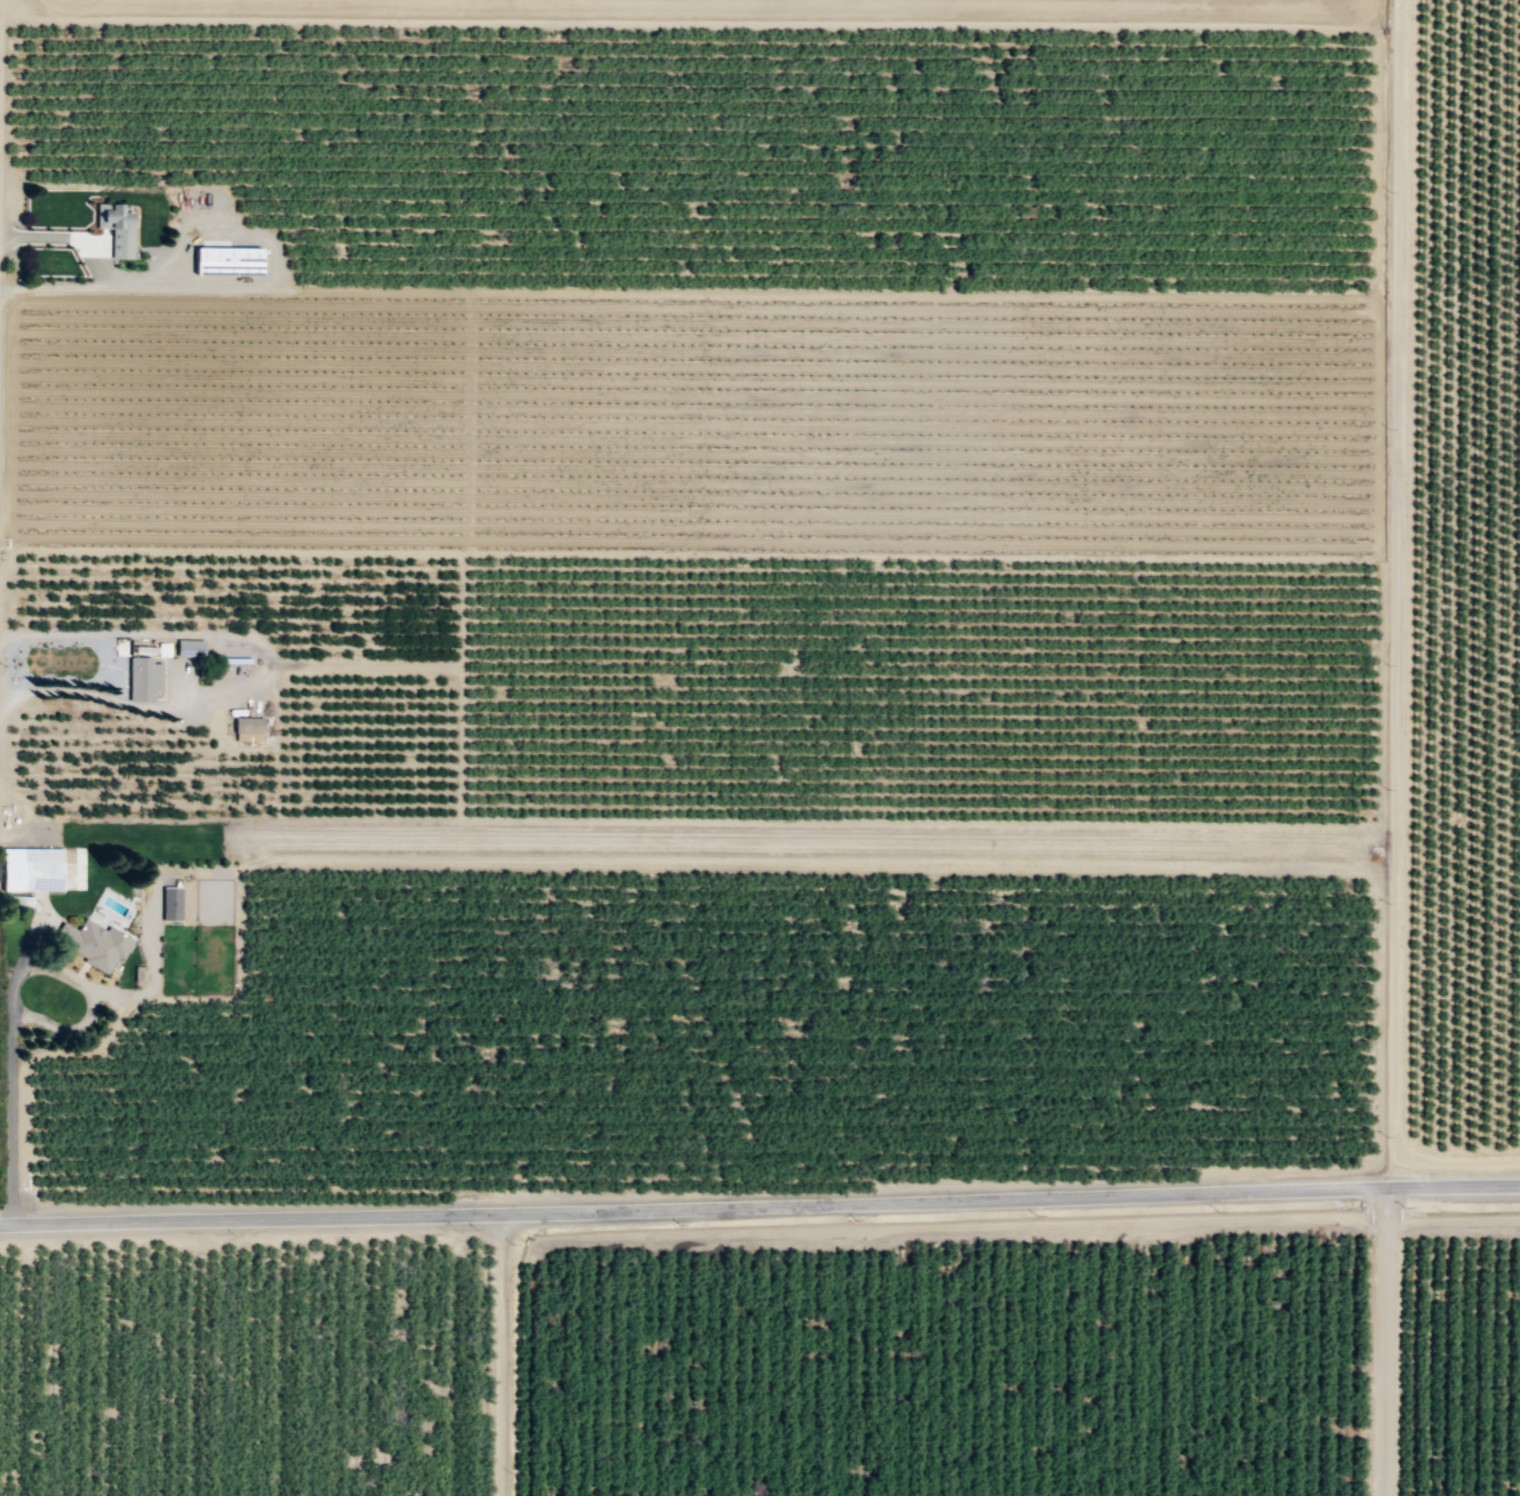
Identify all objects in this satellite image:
road: (691, 22)
building: (116, 227)
road: (82, 237)
road: (270, 249)
building: (228, 260)
road: (825, 293)
road: (1385, 428)
road: (9, 541)
road: (221, 551)
road: (923, 556)
road: (1396, 576)
road: (363, 665)
road: (264, 668)
building: (144, 679)
building: (248, 729)
road: (657, 821)
road: (535, 857)
building: (31, 868)
building: (171, 902)
building: (94, 941)
building: (140, 973)
road: (1378, 1085)
road: (8, 1097)
road: (1458, 1162)
road: (760, 1206)
road: (1452, 1221)
road: (830, 1229)
road: (1384, 1341)
road: (500, 1355)
road: (530, 1361)

